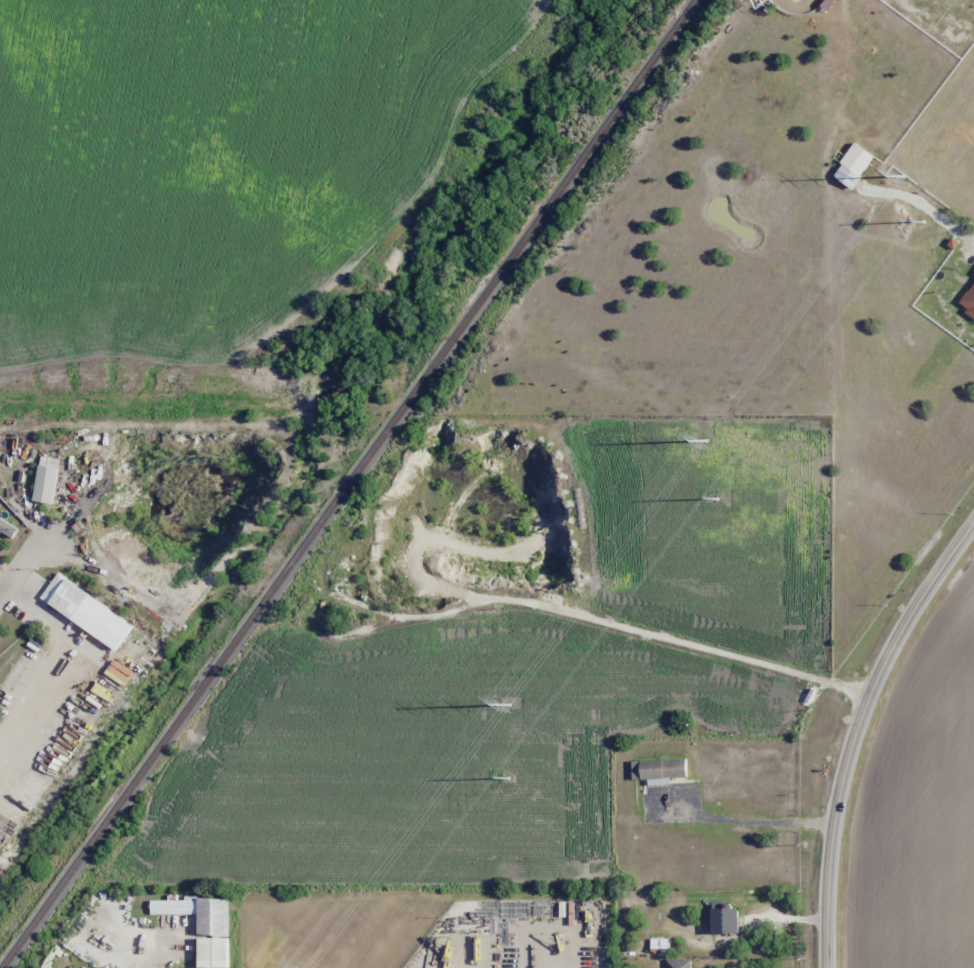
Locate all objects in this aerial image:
building: (836, 119)
crop: (211, 161)
building: (851, 166)
power tower: (902, 176)
power tower: (925, 221)
power tower: (705, 441)
building: (44, 480)
railway: (347, 483)
power tower: (715, 497)
road: (9, 571)
road: (22, 574)
building: (94, 615)
power tower: (507, 704)
road: (856, 730)
building: (667, 770)
power tower: (506, 777)
crop: (920, 819)
building: (217, 921)
building: (730, 923)
building: (676, 964)

